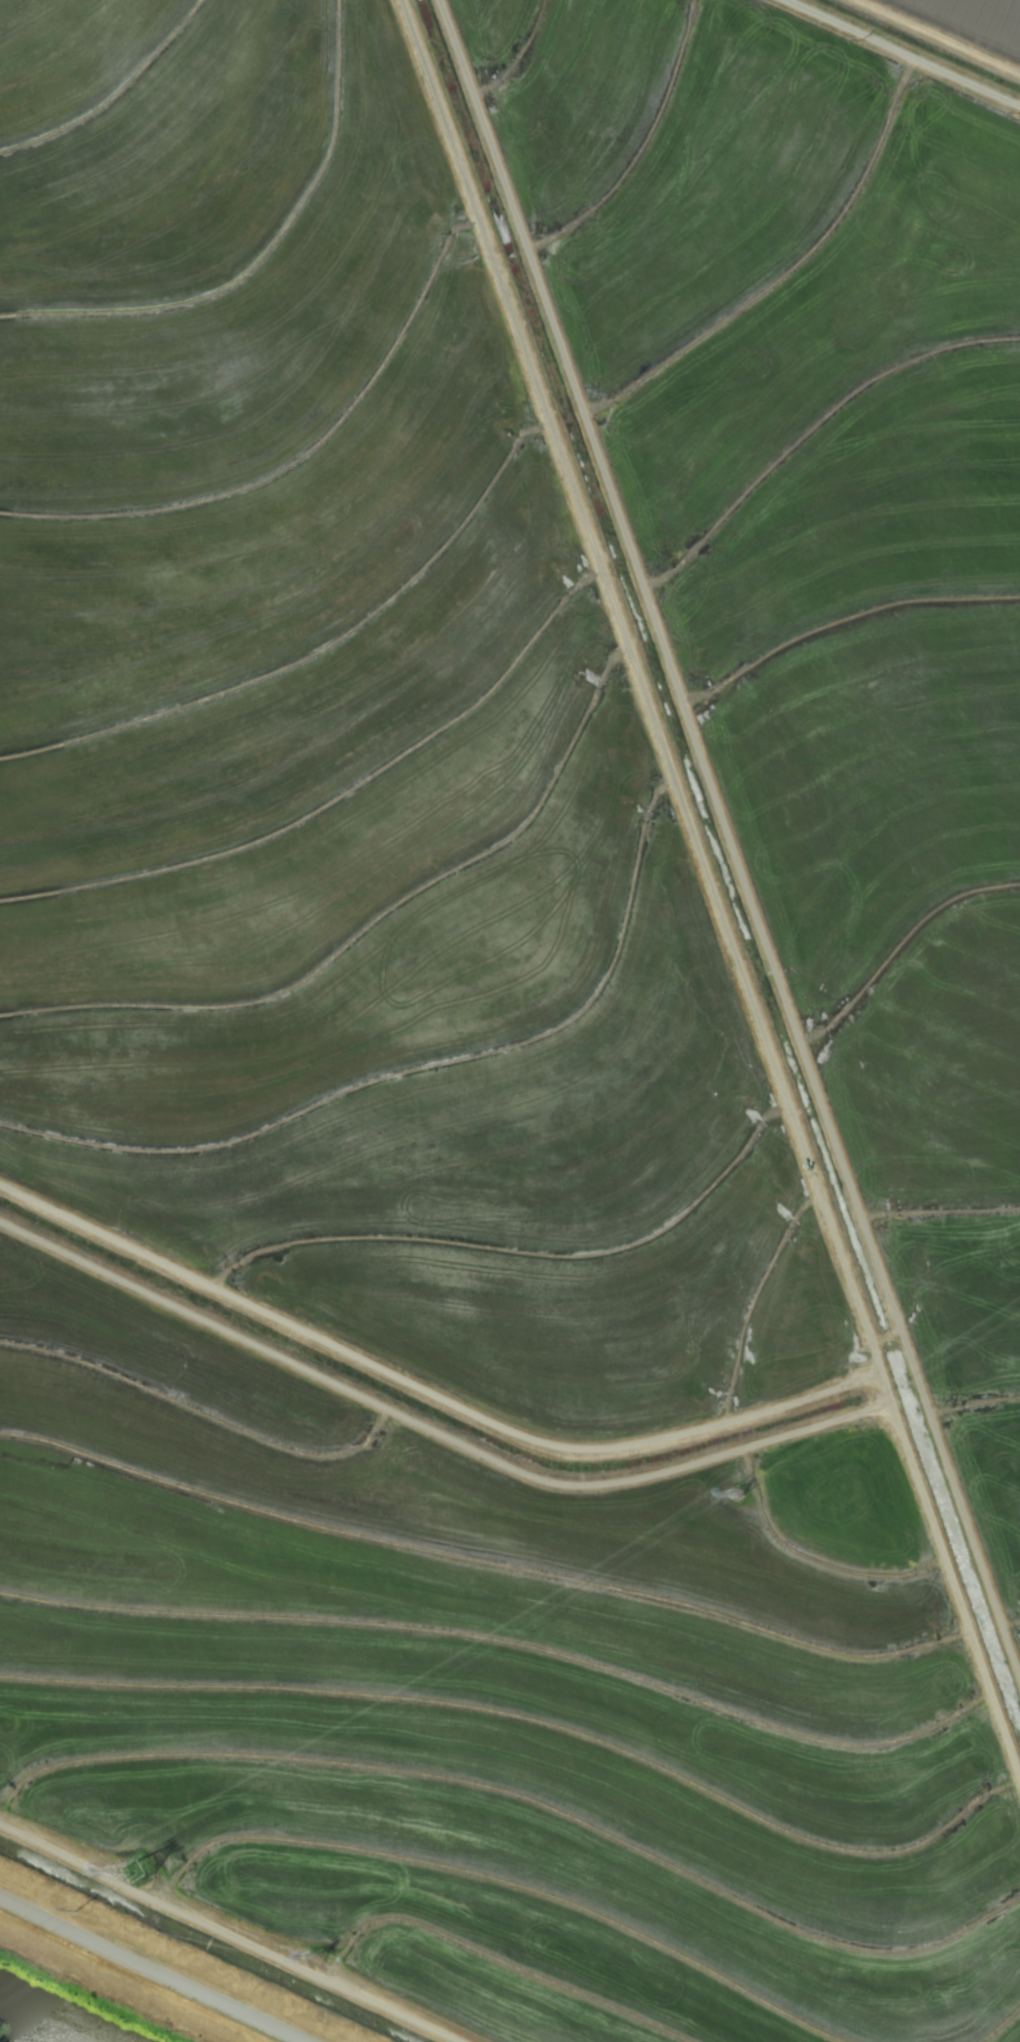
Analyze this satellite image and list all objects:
crop: (516, 1003)
power tower: (740, 1498)
power tower: (145, 1878)
power tower: (321, 1955)
road: (144, 1973)

